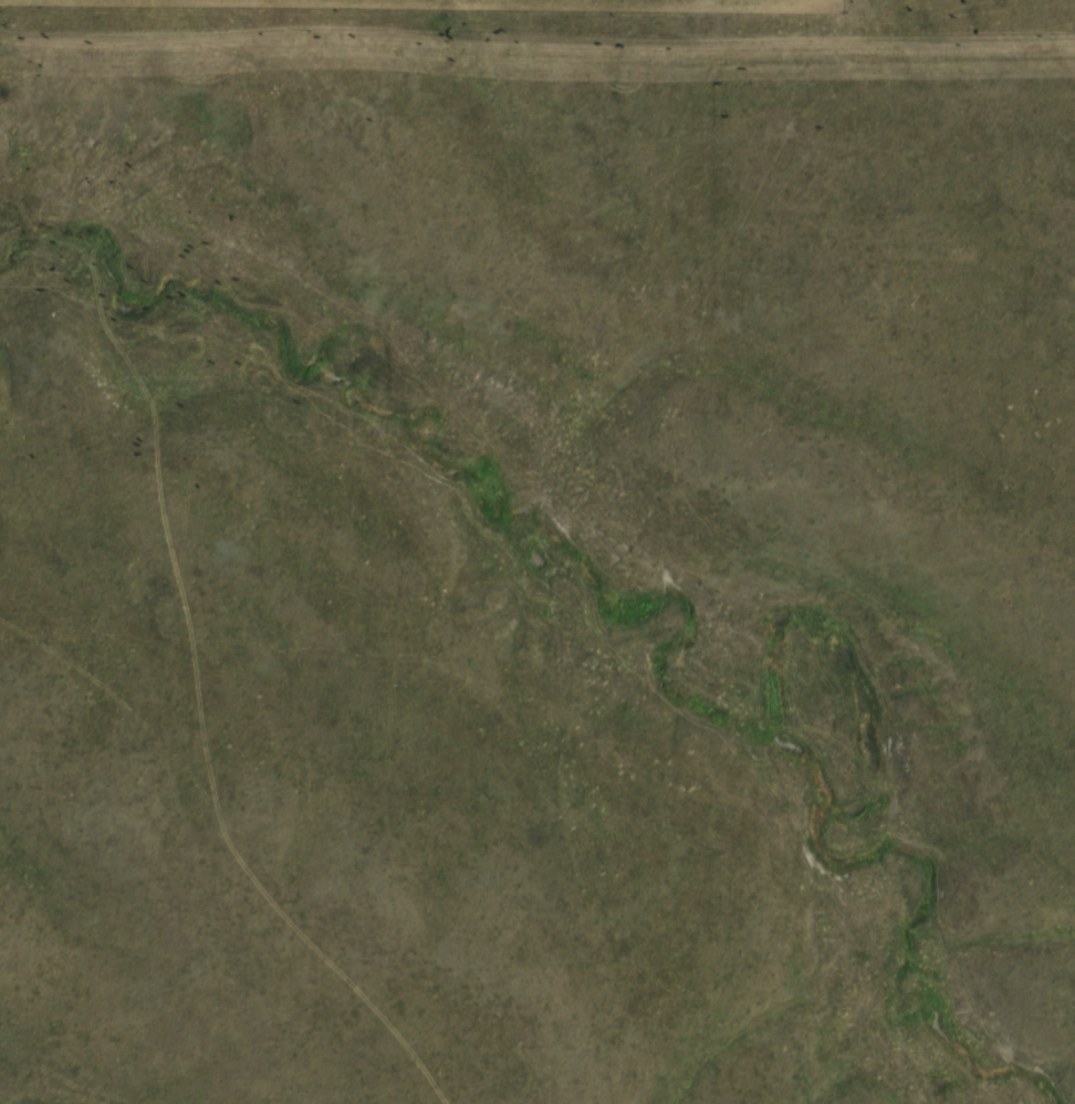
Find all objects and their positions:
road: (587, 41)
road: (63, 127)

